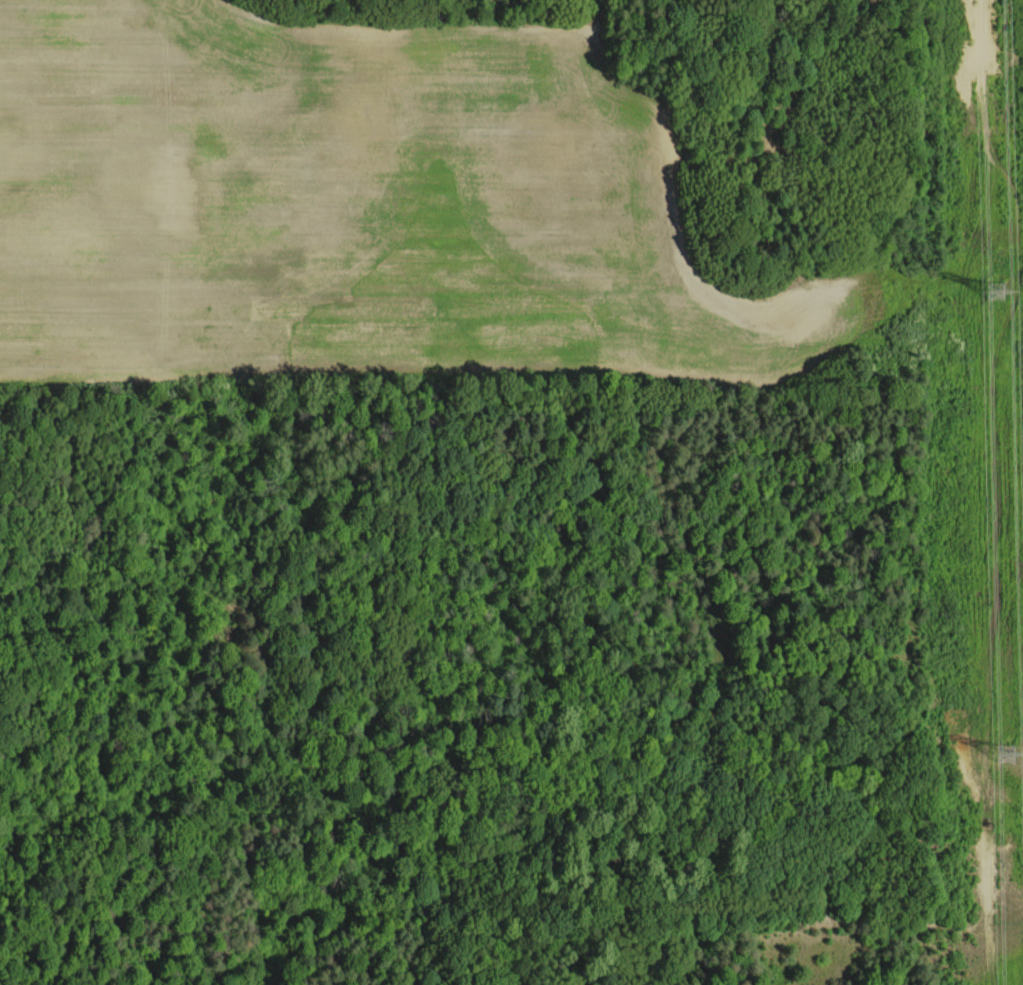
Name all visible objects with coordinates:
power tower: (1000, 292)
power tower: (1007, 755)

